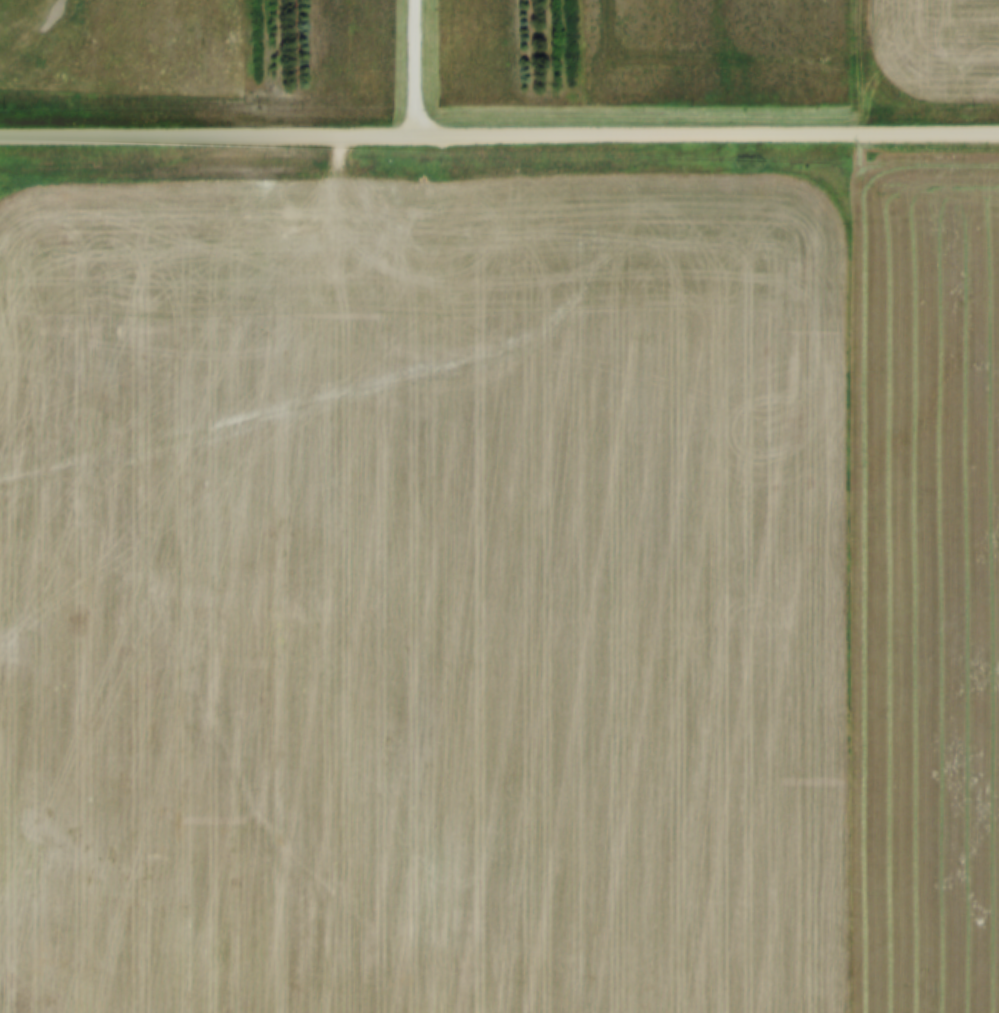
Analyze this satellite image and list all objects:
road: (419, 69)
road: (499, 137)

